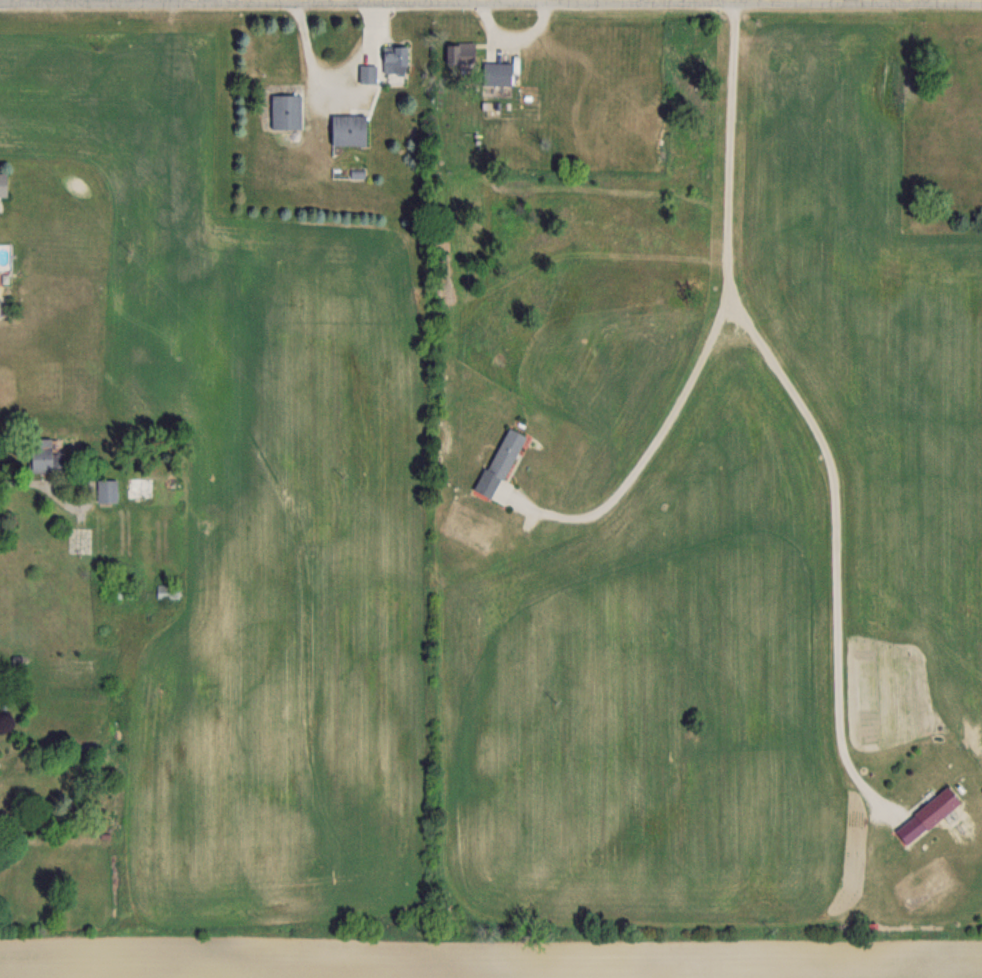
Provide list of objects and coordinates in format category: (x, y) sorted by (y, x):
road: (491, 1)
building: (458, 53)
building: (393, 59)
building: (366, 73)
building: (496, 73)
building: (285, 111)
building: (347, 130)
building: (2, 183)
road: (796, 401)
road: (660, 431)
building: (42, 454)
building: (500, 467)
road: (19, 479)
building: (140, 488)
building: (105, 491)
building: (167, 591)
building: (935, 807)

